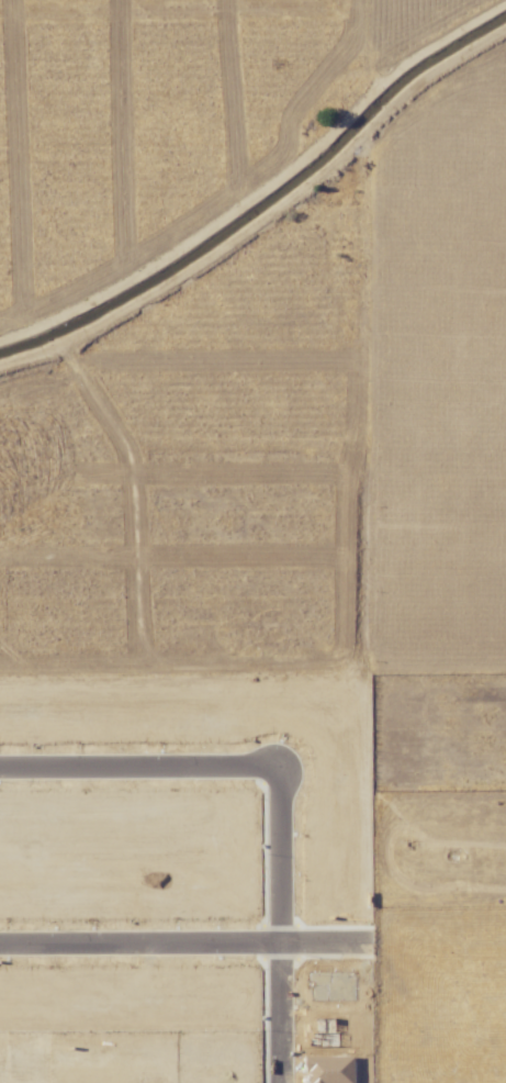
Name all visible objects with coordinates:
road: (279, 788)
road: (138, 944)

